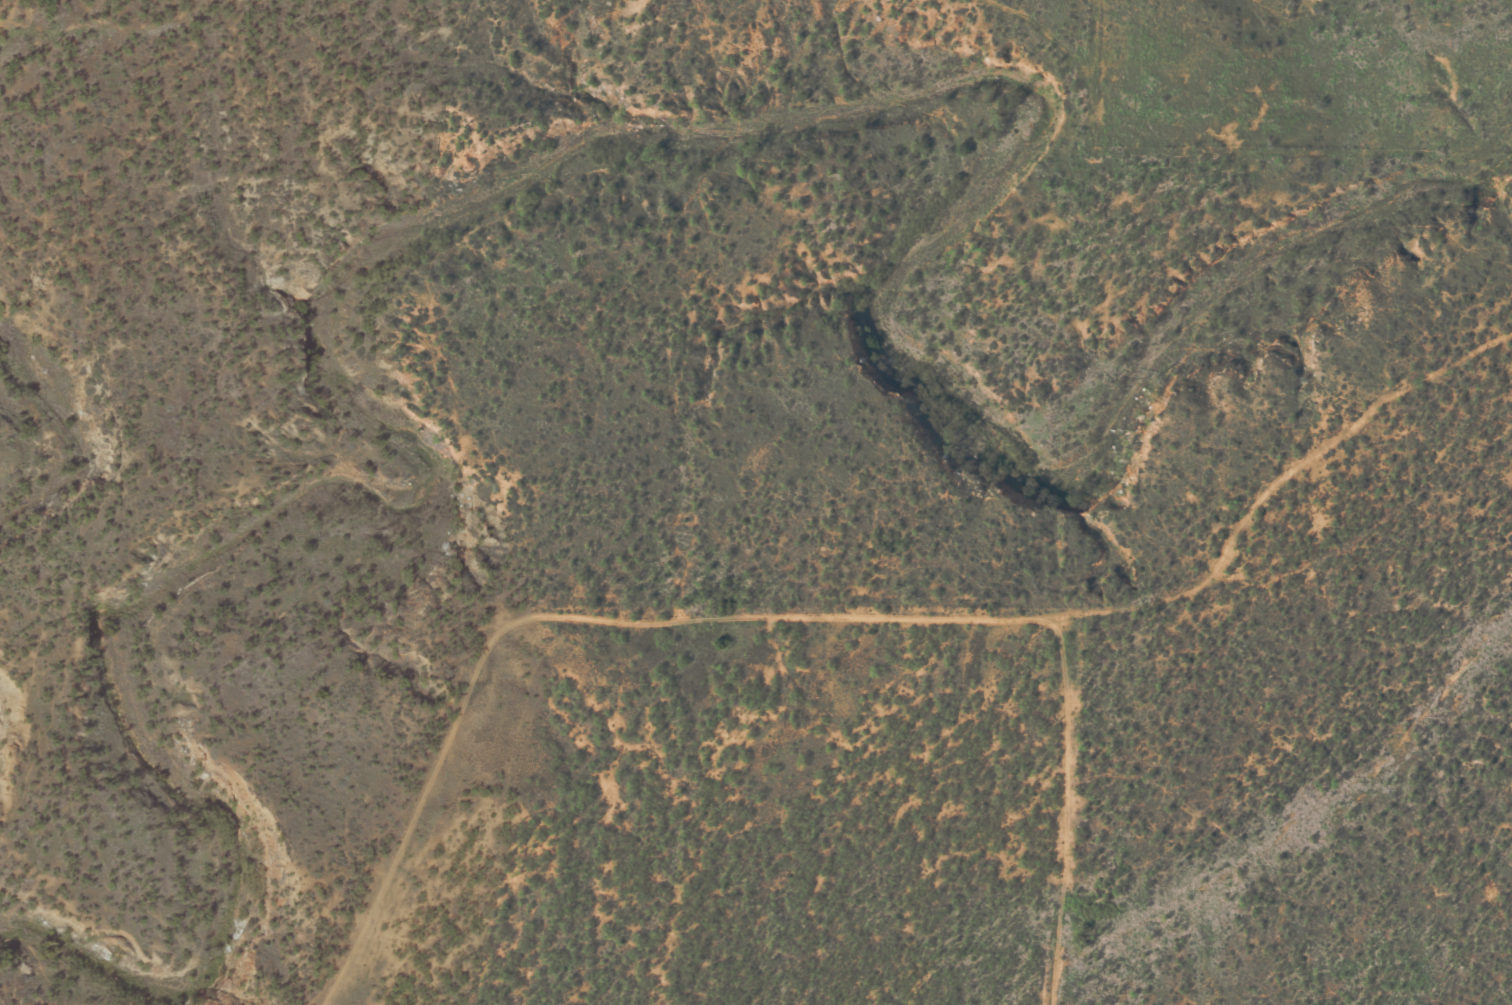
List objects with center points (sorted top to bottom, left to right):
road: (1202, 575)
road: (506, 689)
road: (1062, 829)

